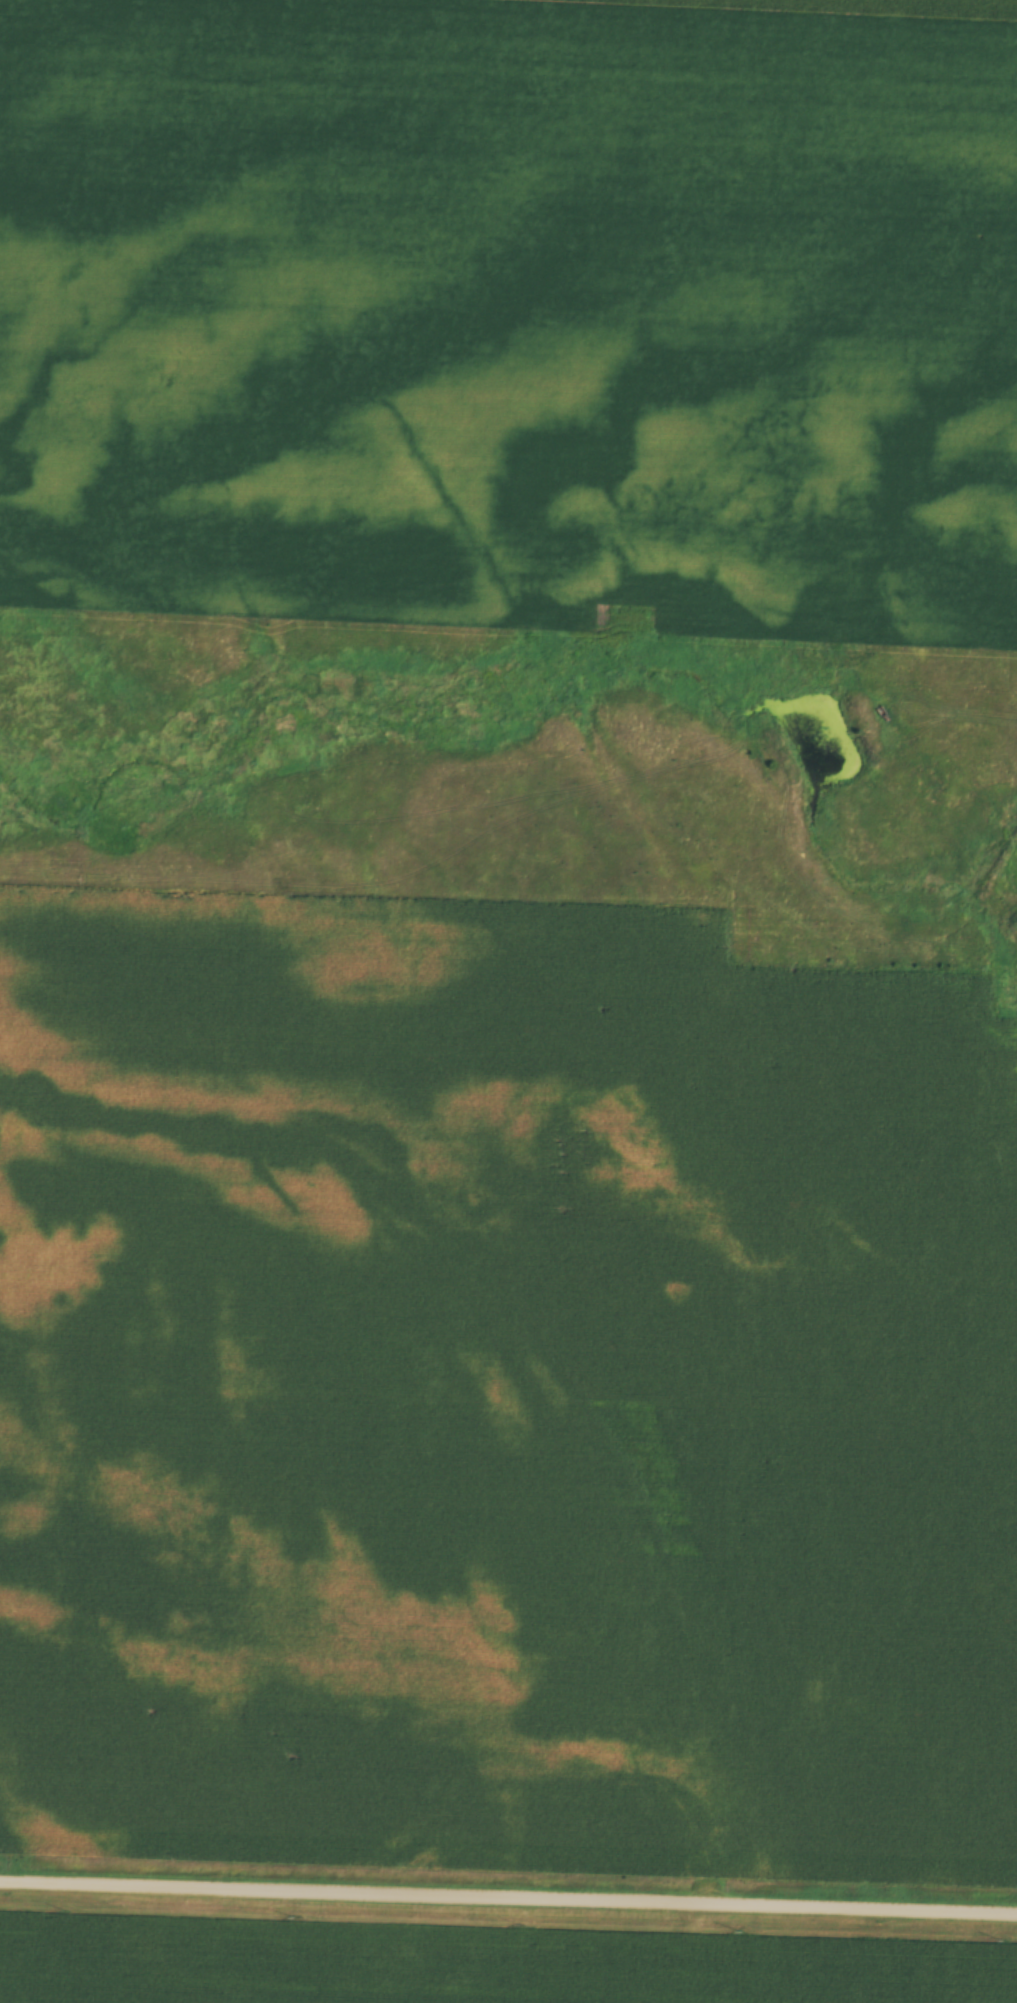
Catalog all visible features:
road: (508, 1895)

